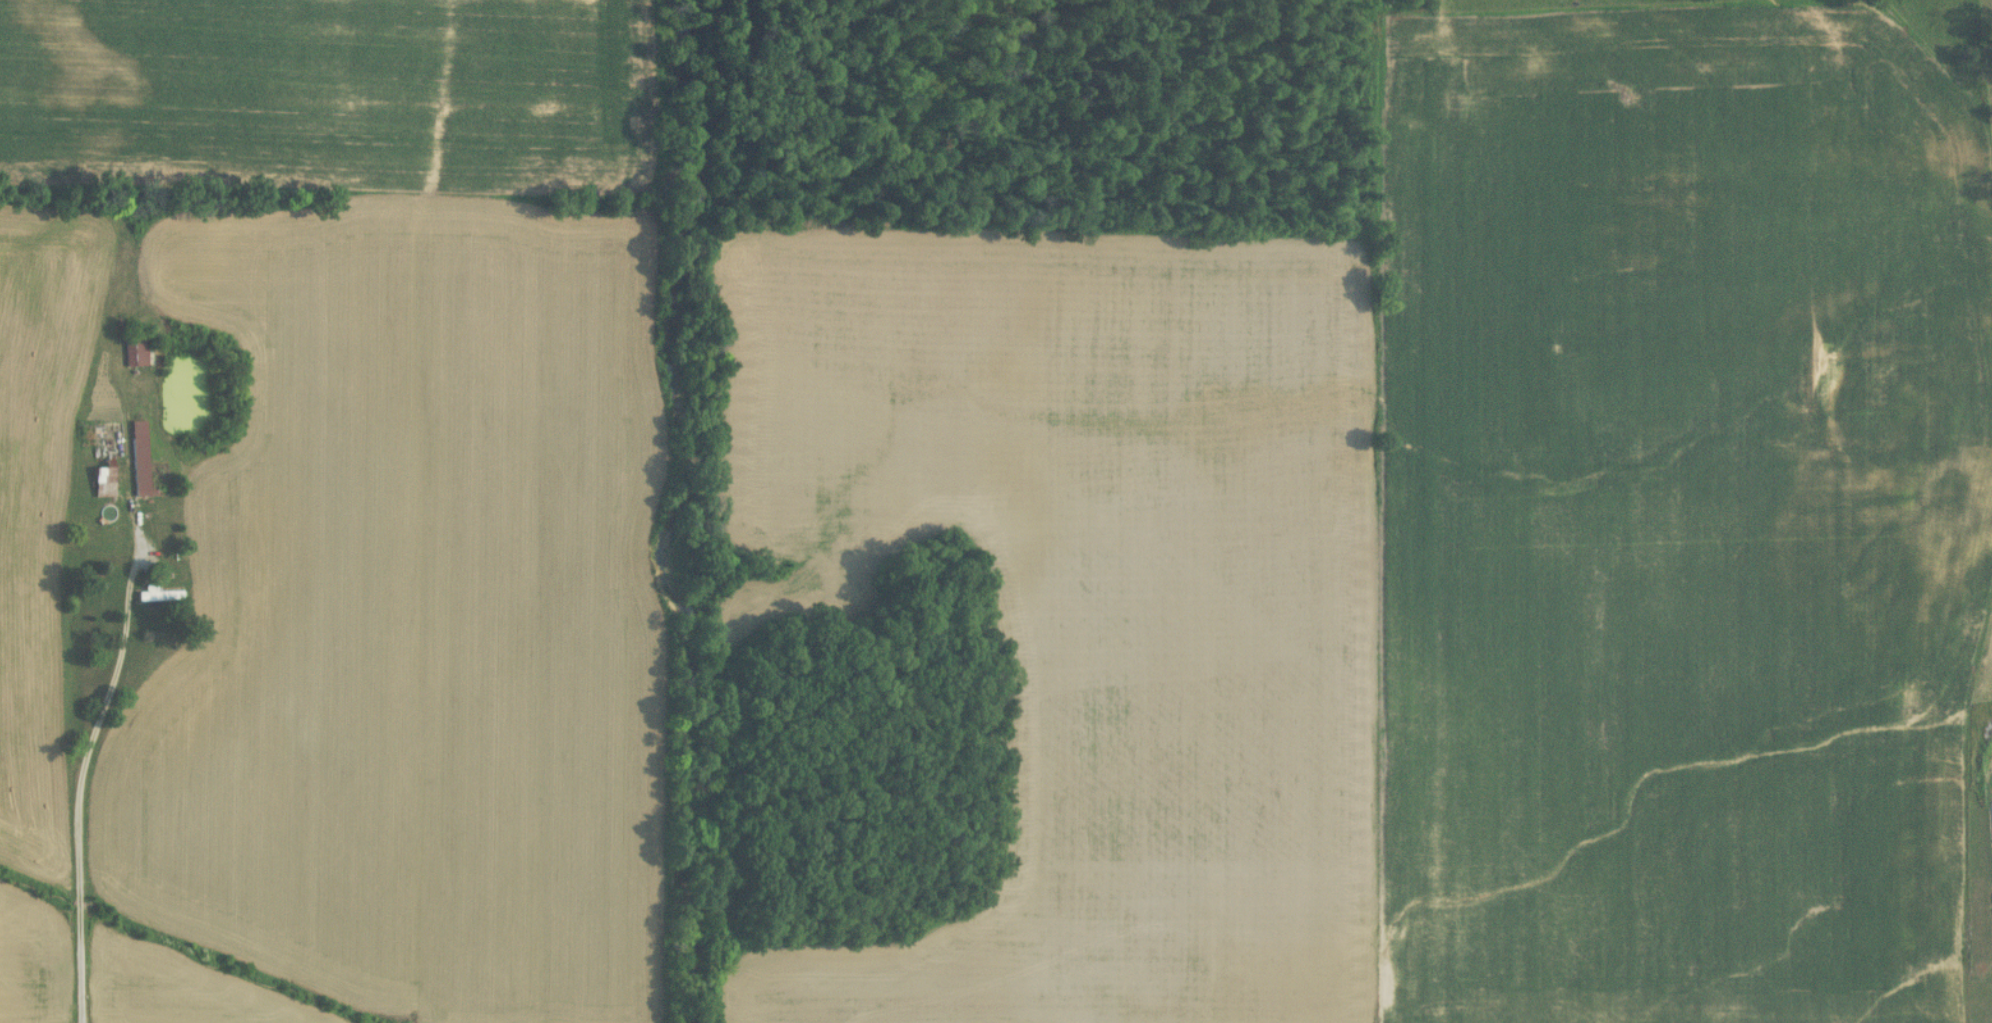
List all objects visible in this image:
building: (133, 352)
building: (137, 460)
building: (101, 481)
building: (156, 599)
road: (91, 776)
building: (1990, 835)

